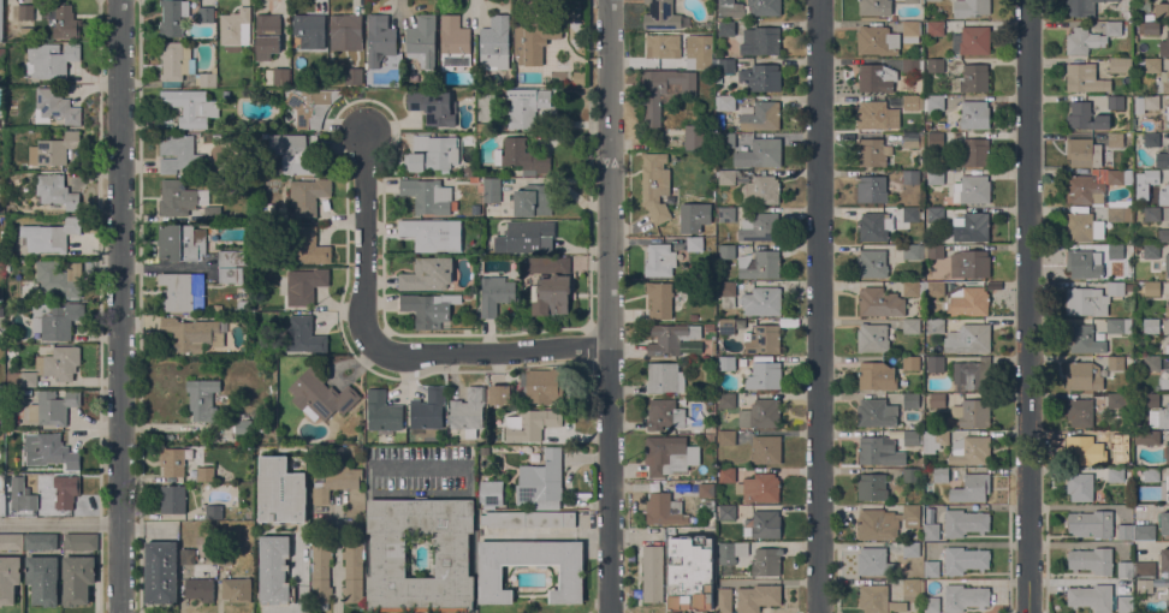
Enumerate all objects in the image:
building: (910, 0)
building: (724, 2)
building: (1143, 4)
building: (764, 6)
building: (874, 7)
building: (971, 7)
building: (1081, 7)
building: (1162, 8)
building: (731, 10)
building: (25, 11)
building: (206, 13)
building: (660, 14)
building: (173, 17)
building: (64, 20)
building: (1149, 26)
building: (0, 28)
building: (726, 28)
building: (934, 28)
building: (26, 29)
building: (235, 29)
building: (309, 29)
building: (1127, 29)
building: (345, 31)
building: (534, 31)
building: (910, 31)
building: (267, 35)
building: (1090, 37)
building: (1134, 37)
building: (379, 38)
building: (422, 40)
building: (760, 40)
building: (877, 40)
building: (974, 40)
building: (453, 42)
building: (494, 43)
building: (663, 44)
building: (1164, 44)
building: (1, 50)
building: (918, 50)
building: (51, 59)
building: (702, 59)
building: (174, 64)
building: (724, 65)
building: (913, 65)
building: (936, 65)
building: (1116, 65)
building: (1152, 65)
building: (278, 75)
building: (352, 76)
building: (761, 77)
building: (876, 77)
building: (974, 77)
building: (1081, 77)
building: (207, 78)
building: (1163, 82)
building: (663, 90)
building: (226, 93)
building: (945, 94)
building: (726, 102)
building: (912, 102)
building: (1115, 102)
building: (933, 103)
building: (1145, 103)
building: (311, 105)
building: (54, 106)
building: (190, 106)
building: (433, 106)
building: (526, 106)
building: (1167, 112)
building: (974, 113)
building: (877, 114)
building: (761, 115)
building: (1085, 115)
building: (927, 124)
building: (940, 124)
building: (694, 136)
building: (913, 139)
building: (933, 139)
building: (1115, 139)
building: (1151, 139)
building: (725, 142)
building: (54, 149)
building: (766, 151)
building: (873, 151)
building: (974, 151)
building: (1082, 151)
building: (178, 153)
building: (433, 153)
building: (295, 154)
building: (521, 156)
building: (1162, 157)
building: (1147, 175)
building: (910, 177)
building: (936, 177)
building: (1116, 177)
building: (474, 179)
building: (655, 185)
building: (753, 185)
building: (491, 189)
building: (872, 189)
building: (972, 189)
building: (1085, 190)
building: (55, 191)
building: (308, 195)
building: (427, 195)
building: (1164, 195)
building: (180, 197)
building: (532, 200)
building: (212, 213)
building: (725, 213)
building: (1152, 213)
building: (912, 214)
building: (934, 214)
building: (1120, 214)
building: (706, 226)
building: (759, 226)
building: (873, 226)
building: (974, 226)
building: (1084, 226)
building: (427, 233)
building: (49, 234)
building: (1163, 234)
building: (526, 237)
building: (954, 238)
building: (180, 242)
building: (694, 243)
road: (366, 244)
building: (308, 245)
building: (1137, 246)
building: (725, 250)
building: (1151, 250)
building: (922, 251)
building: (1115, 251)
building: (230, 257)
building: (659, 258)
building: (872, 262)
building: (969, 263)
building: (1084, 263)
building: (1167, 263)
building: (546, 264)
building: (761, 264)
building: (428, 273)
building: (231, 274)
building: (59, 278)
building: (304, 285)
building: (1115, 286)
building: (1129, 286)
building: (1152, 287)
building: (912, 288)
building: (936, 288)
building: (182, 290)
building: (496, 293)
building: (550, 293)
building: (725, 293)
building: (659, 299)
building: (761, 300)
building: (1086, 300)
building: (879, 302)
building: (968, 302)
road: (121, 305)
building: (242, 305)
road: (610, 305)
road: (818, 306)
road: (1026, 306)
building: (216, 308)
building: (429, 308)
building: (1167, 310)
building: (693, 316)
building: (54, 320)
building: (910, 325)
building: (726, 326)
building: (936, 326)
building: (1116, 326)
building: (1151, 326)
building: (710, 327)
building: (192, 333)
building: (0, 334)
building: (304, 335)
building: (872, 337)
building: (1168, 337)
building: (670, 338)
building: (968, 338)
building: (1082, 338)
building: (764, 339)
building: (1167, 347)
road: (488, 355)
building: (1128, 359)
building: (1116, 362)
building: (726, 363)
building: (910, 363)
building: (1138, 363)
building: (1152, 363)
building: (936, 364)
building: (48, 367)
building: (1168, 370)
building: (764, 373)
building: (873, 375)
building: (972, 375)
building: (1084, 375)
building: (664, 376)
building: (540, 386)
building: (499, 394)
building: (320, 395)
building: (202, 398)
building: (1115, 399)
building: (726, 400)
building: (910, 400)
building: (937, 400)
building: (1151, 400)
building: (53, 406)
building: (428, 409)
building: (468, 410)
building: (1080, 411)
building: (382, 412)
building: (877, 412)
building: (972, 412)
building: (665, 413)
building: (760, 413)
building: (1099, 415)
building: (1159, 417)
building: (530, 423)
building: (261, 424)
building: (243, 425)
building: (1129, 434)
building: (711, 436)
building: (1115, 436)
building: (1147, 436)
building: (726, 438)
building: (910, 438)
building: (934, 440)
building: (972, 447)
building: (766, 448)
building: (1084, 450)
building: (51, 451)
building: (879, 451)
building: (1165, 451)
building: (666, 454)
building: (172, 460)
building: (1116, 472)
building: (206, 474)
building: (1151, 474)
building: (726, 475)
building: (910, 475)
building: (940, 475)
building: (541, 481)
building: (336, 482)
building: (872, 486)
building: (1080, 486)
building: (759, 487)
building: (972, 488)
building: (1167, 488)
building: (281, 489)
building: (704, 489)
building: (66, 490)
building: (492, 493)
building: (173, 499)
building: (30, 501)
building: (1, 504)
building: (710, 504)
building: (664, 508)
building: (213, 511)
building: (726, 512)
building: (913, 514)
building: (528, 518)
building: (711, 518)
road: (61, 522)
building: (965, 522)
building: (1164, 522)
building: (762, 523)
building: (1091, 523)
building: (876, 524)
building: (931, 531)
building: (1125, 531)
building: (1144, 531)
road: (533, 534)
road: (594, 535)
building: (11, 541)
building: (40, 541)
building: (81, 541)
building: (910, 548)
building: (731, 552)
building: (452, 553)
building: (186, 555)
building: (225, 555)
building: (965, 559)
building: (1091, 559)
building: (1164, 559)
building: (766, 560)
building: (873, 561)
road: (97, 567)
building: (931, 569)
building: (1125, 569)
building: (1144, 569)
building: (274, 570)
building: (161, 571)
building: (321, 571)
building: (352, 572)
building: (689, 572)
building: (652, 573)
road: (299, 575)
building: (491, 576)
building: (8, 577)
building: (43, 578)
building: (77, 578)
building: (1144, 585)
building: (200, 588)
building: (912, 588)
building: (237, 589)
building: (1162, 594)
building: (756, 596)
building: (965, 596)
building: (1091, 596)
building: (878, 599)
building: (723, 600)
building: (1125, 603)
building: (931, 605)

